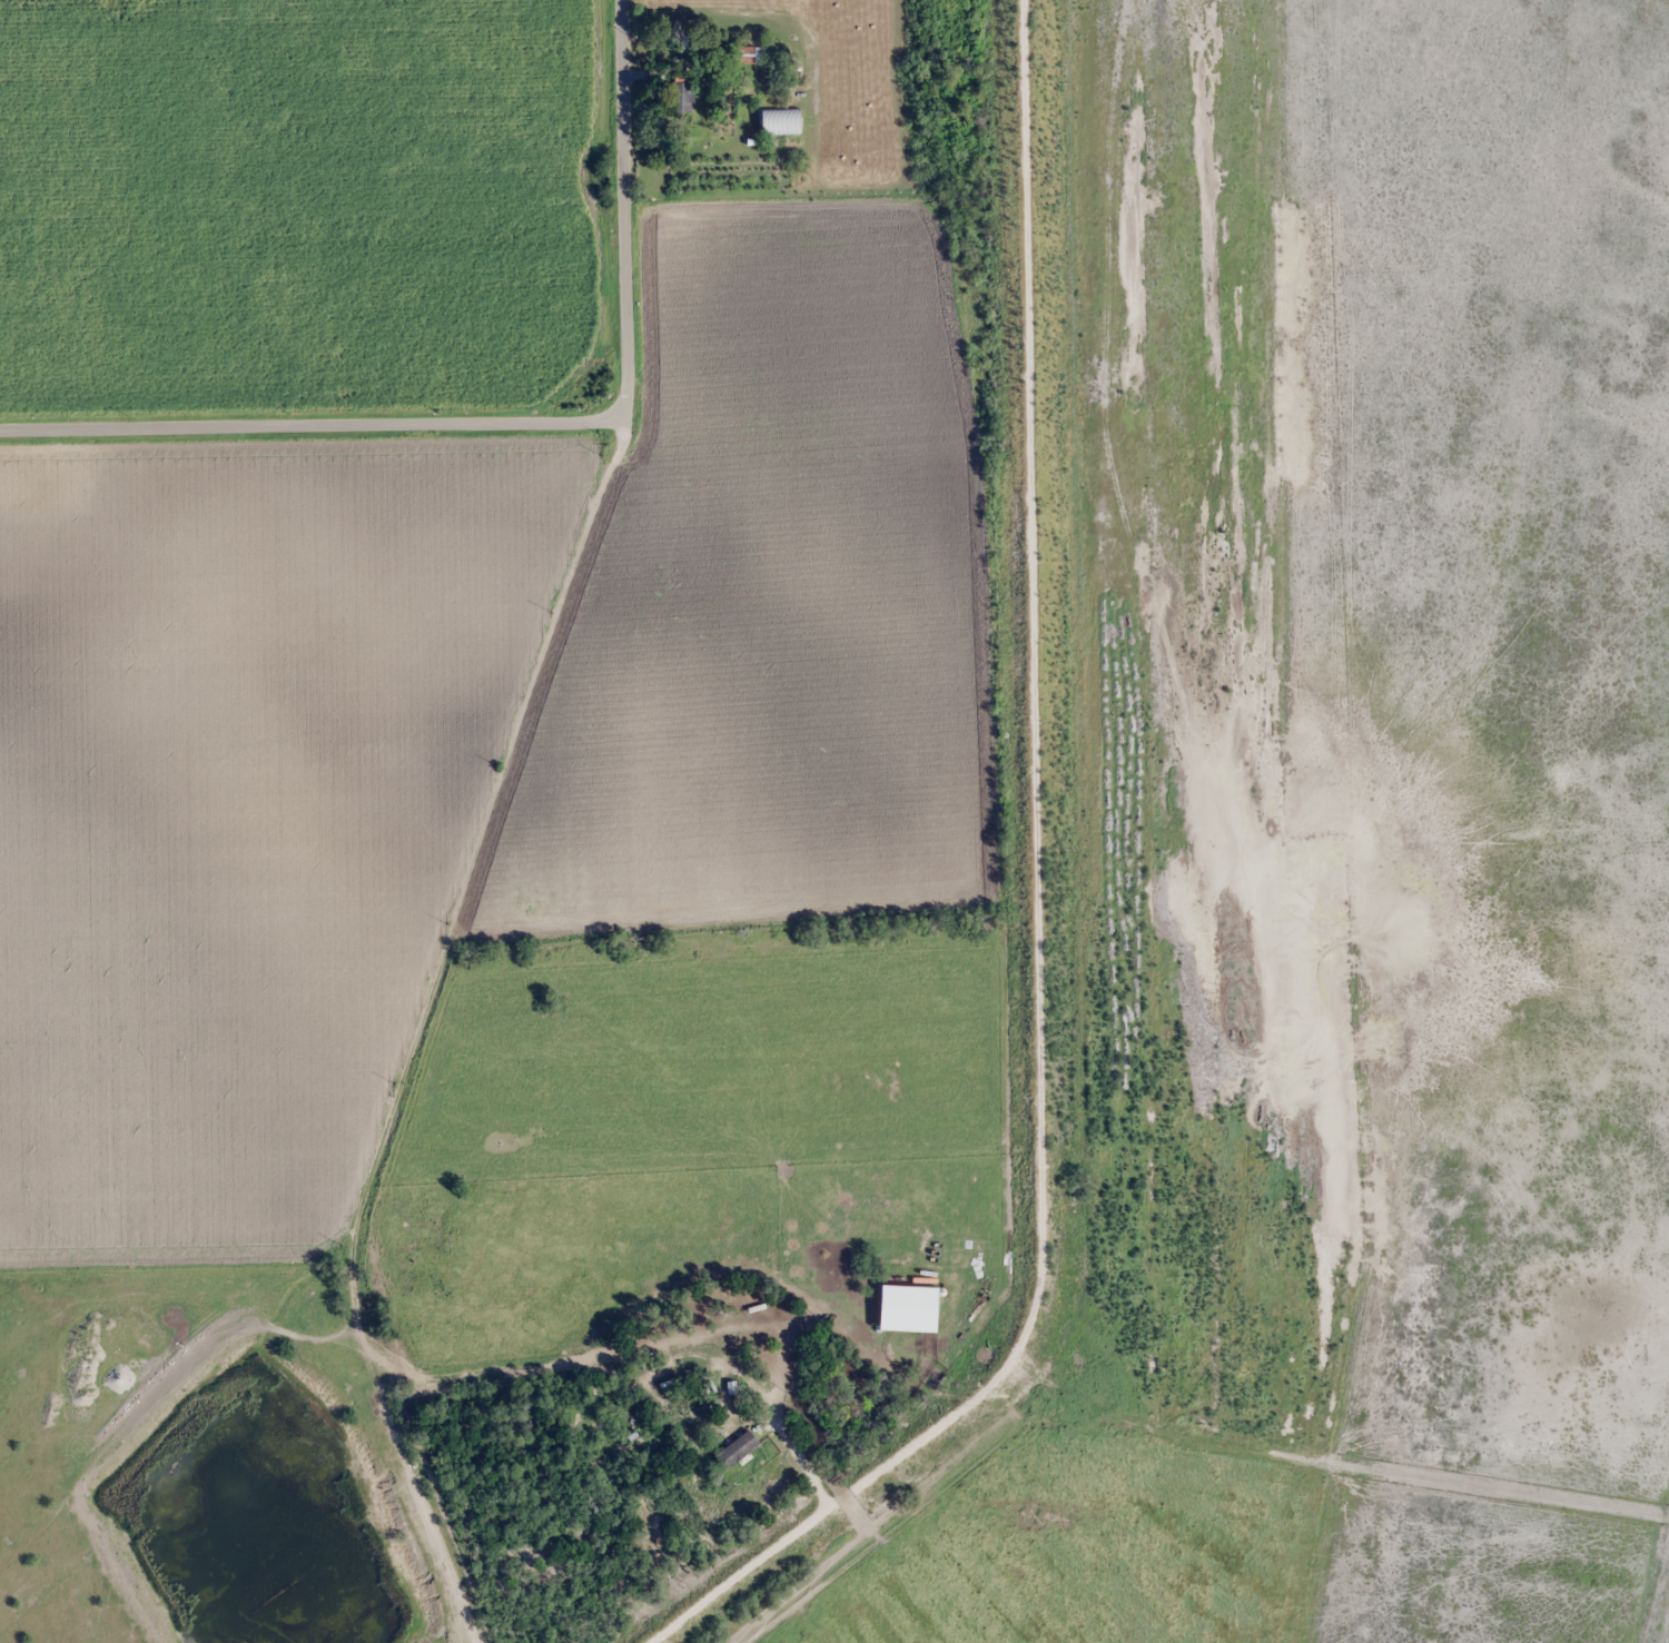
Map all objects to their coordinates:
building: (748, 53)
building: (682, 98)
building: (782, 121)
road: (621, 210)
road: (312, 425)
road: (1007, 901)
road: (425, 1030)
building: (934, 1368)
building: (737, 1449)

